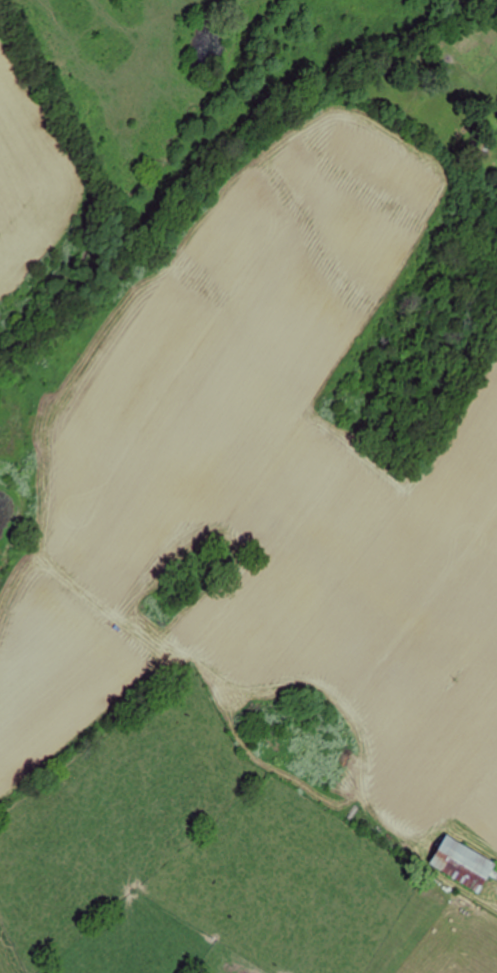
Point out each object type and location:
building: (462, 863)

